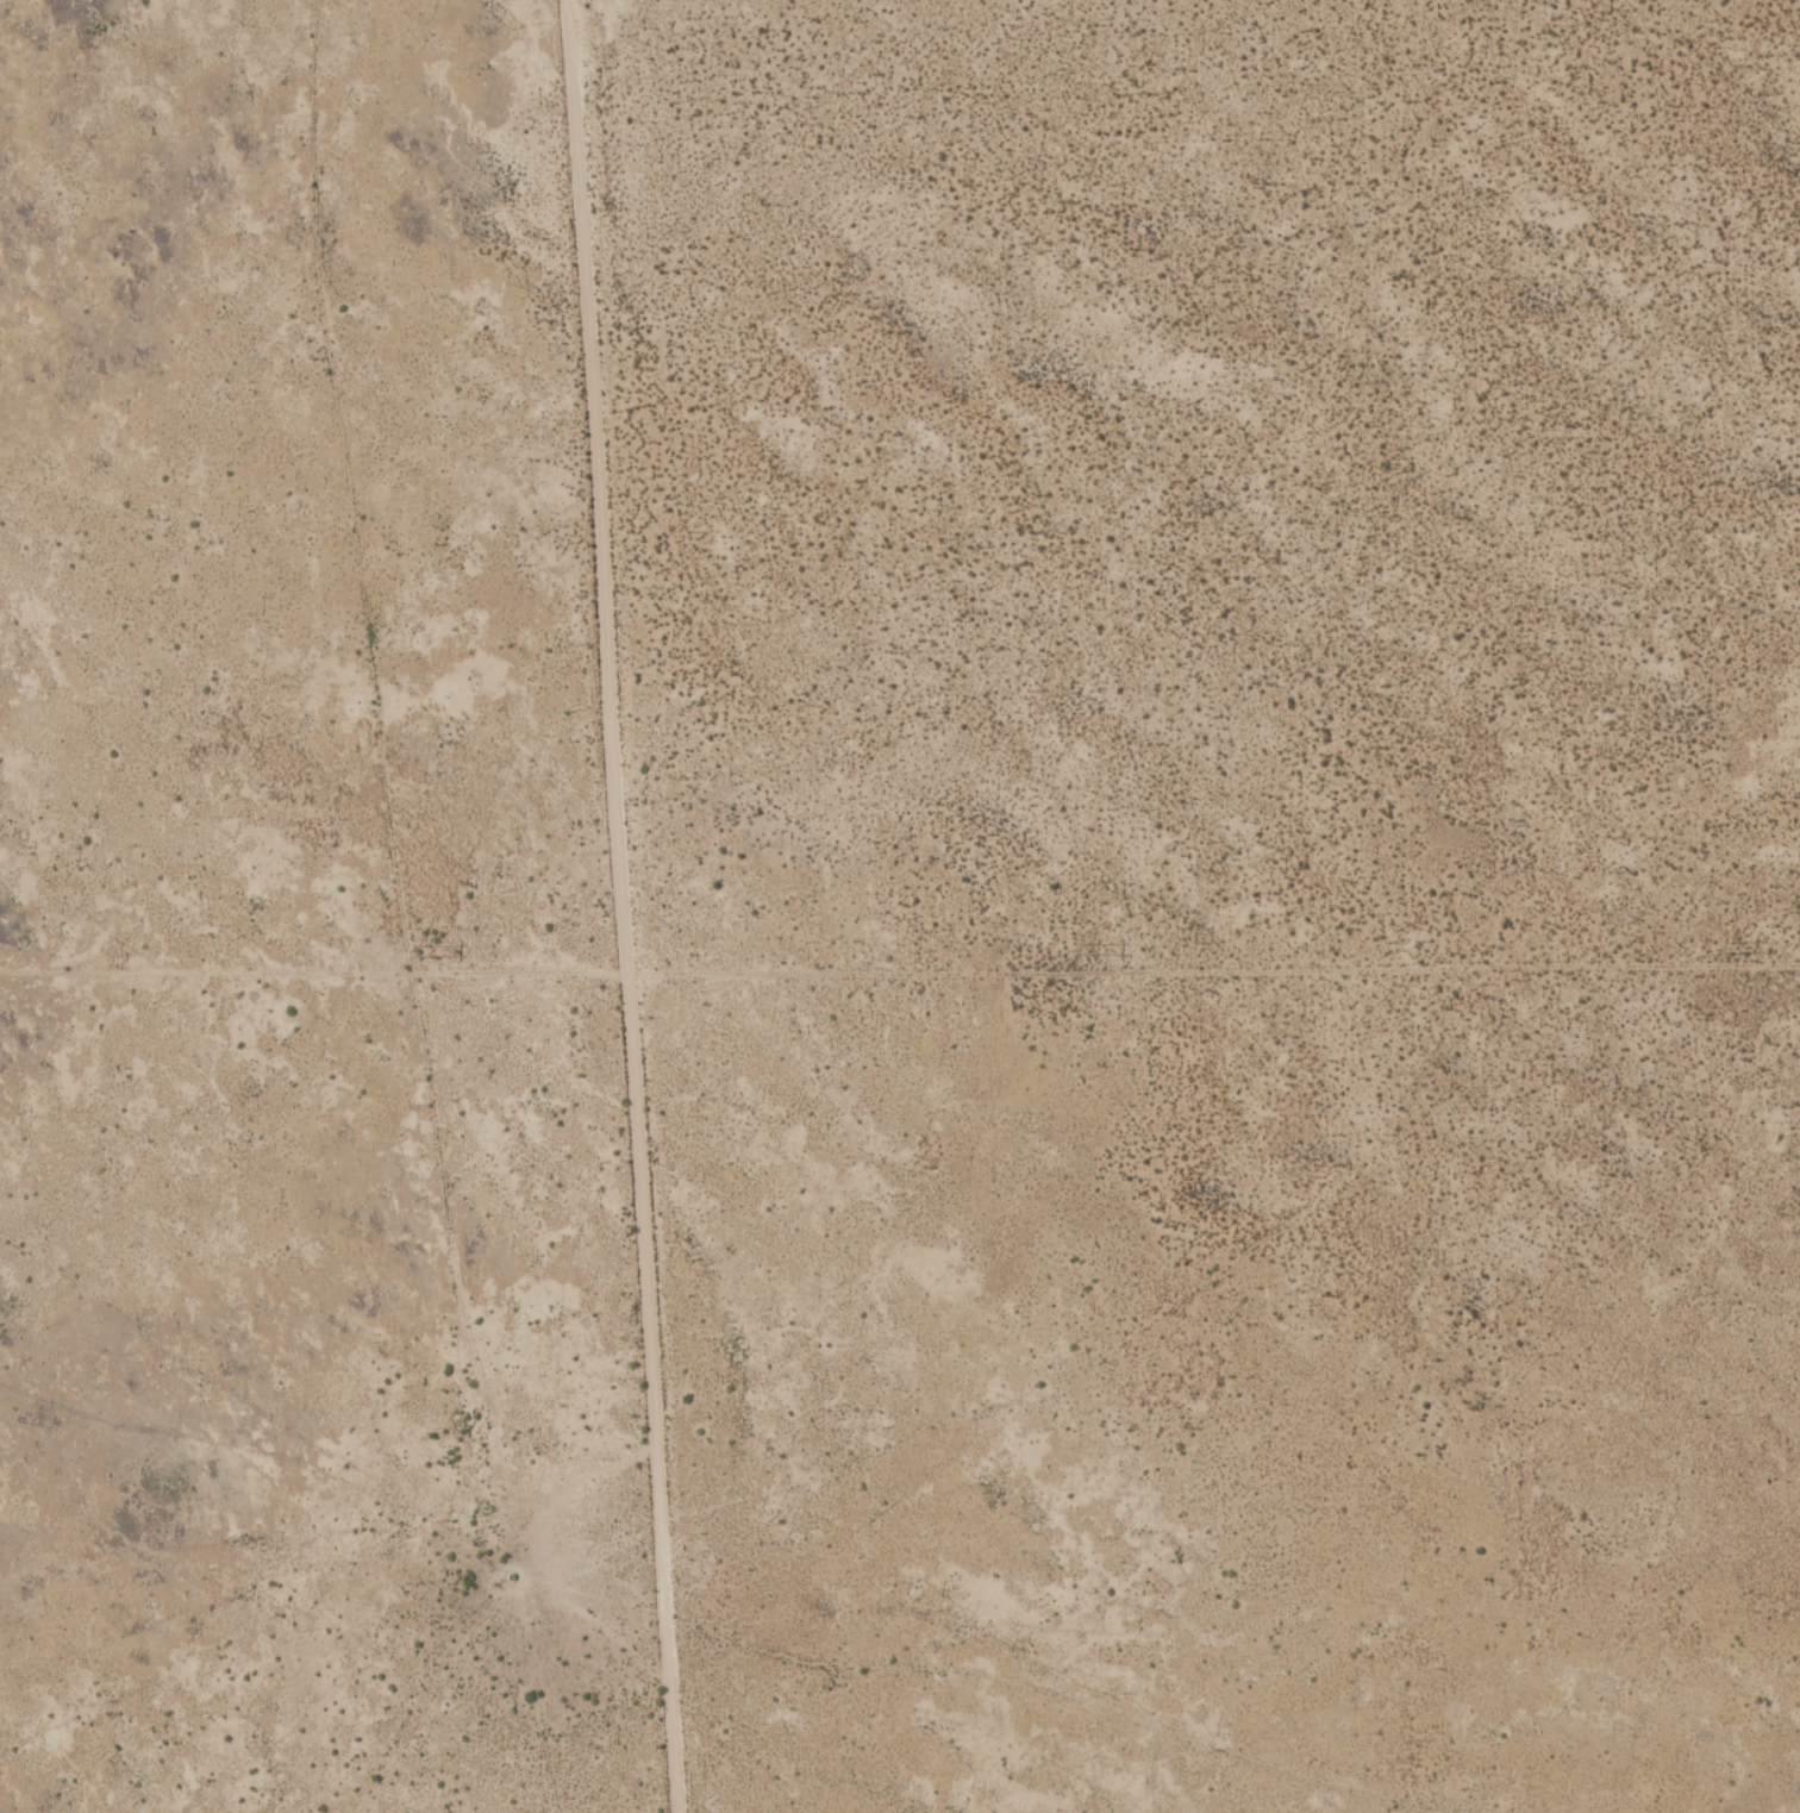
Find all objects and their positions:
road: (613, 907)
power tower: (1079, 945)
power tower: (1725, 945)
power tower: (417, 950)
road: (899, 968)

